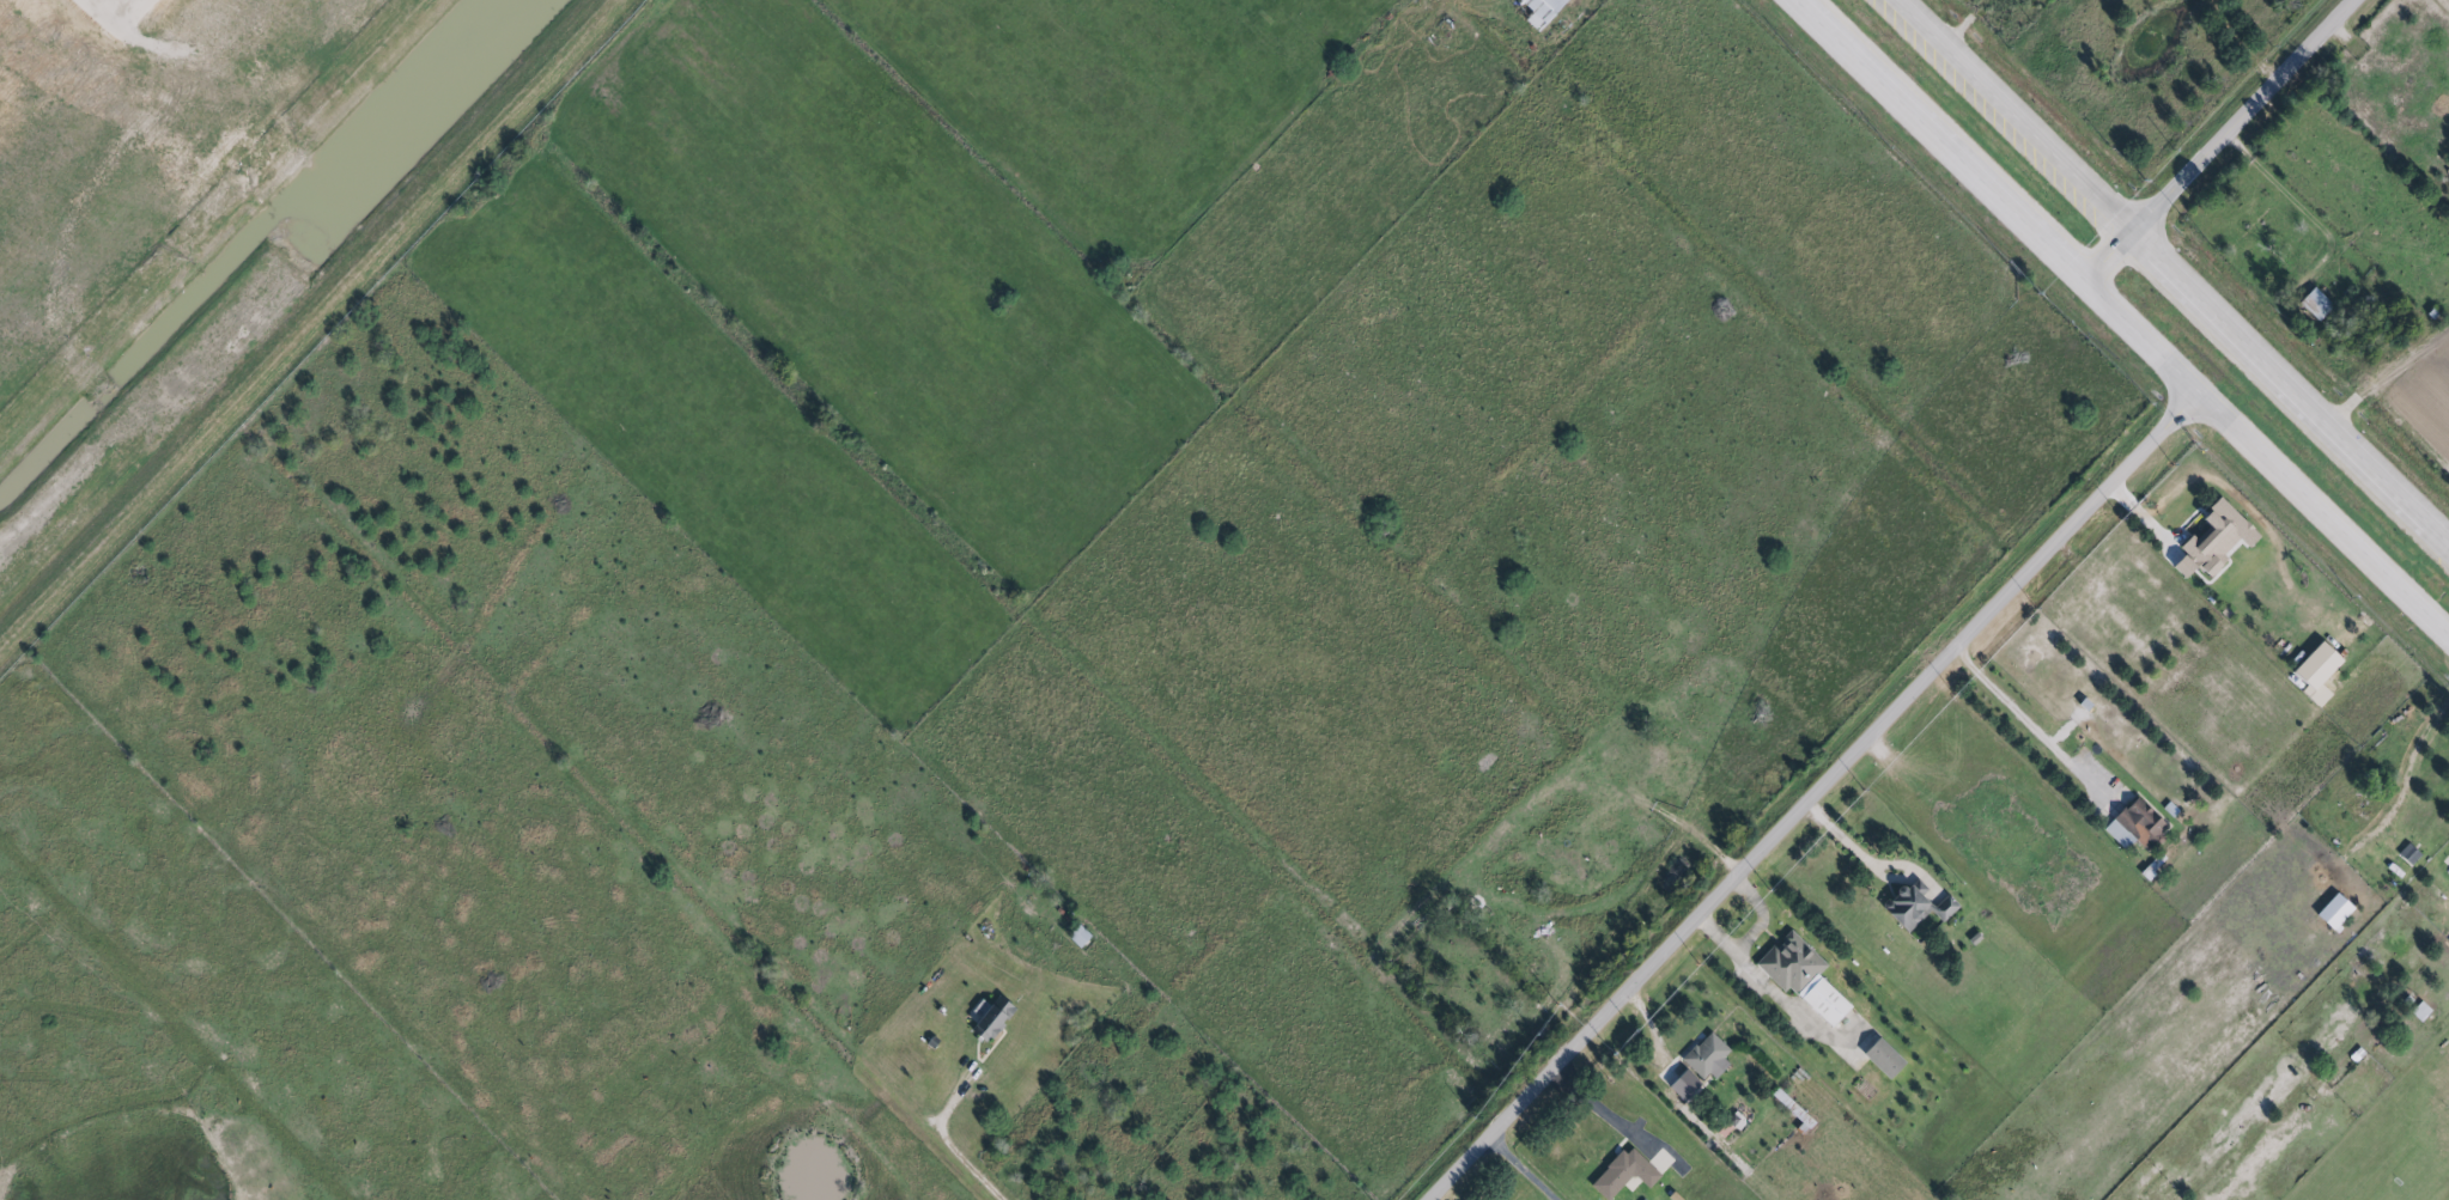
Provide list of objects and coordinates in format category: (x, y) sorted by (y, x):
building: (1538, 11)
building: (120, 12)
road: (2018, 111)
road: (2217, 142)
road: (1995, 200)
building: (2311, 304)
road: (2292, 377)
crop: (2423, 395)
road: (2325, 522)
building: (2210, 540)
building: (2313, 666)
road: (2026, 723)
road: (1815, 798)
building: (2132, 826)
road: (1847, 843)
building: (2406, 854)
building: (1912, 907)
building: (2330, 913)
building: (1075, 937)
building: (1799, 977)
building: (2419, 1012)
building: (986, 1018)
building: (1703, 1058)
building: (1879, 1059)
building: (1681, 1086)
building: (1787, 1107)
road: (943, 1147)
road: (1525, 1169)
building: (1621, 1175)

